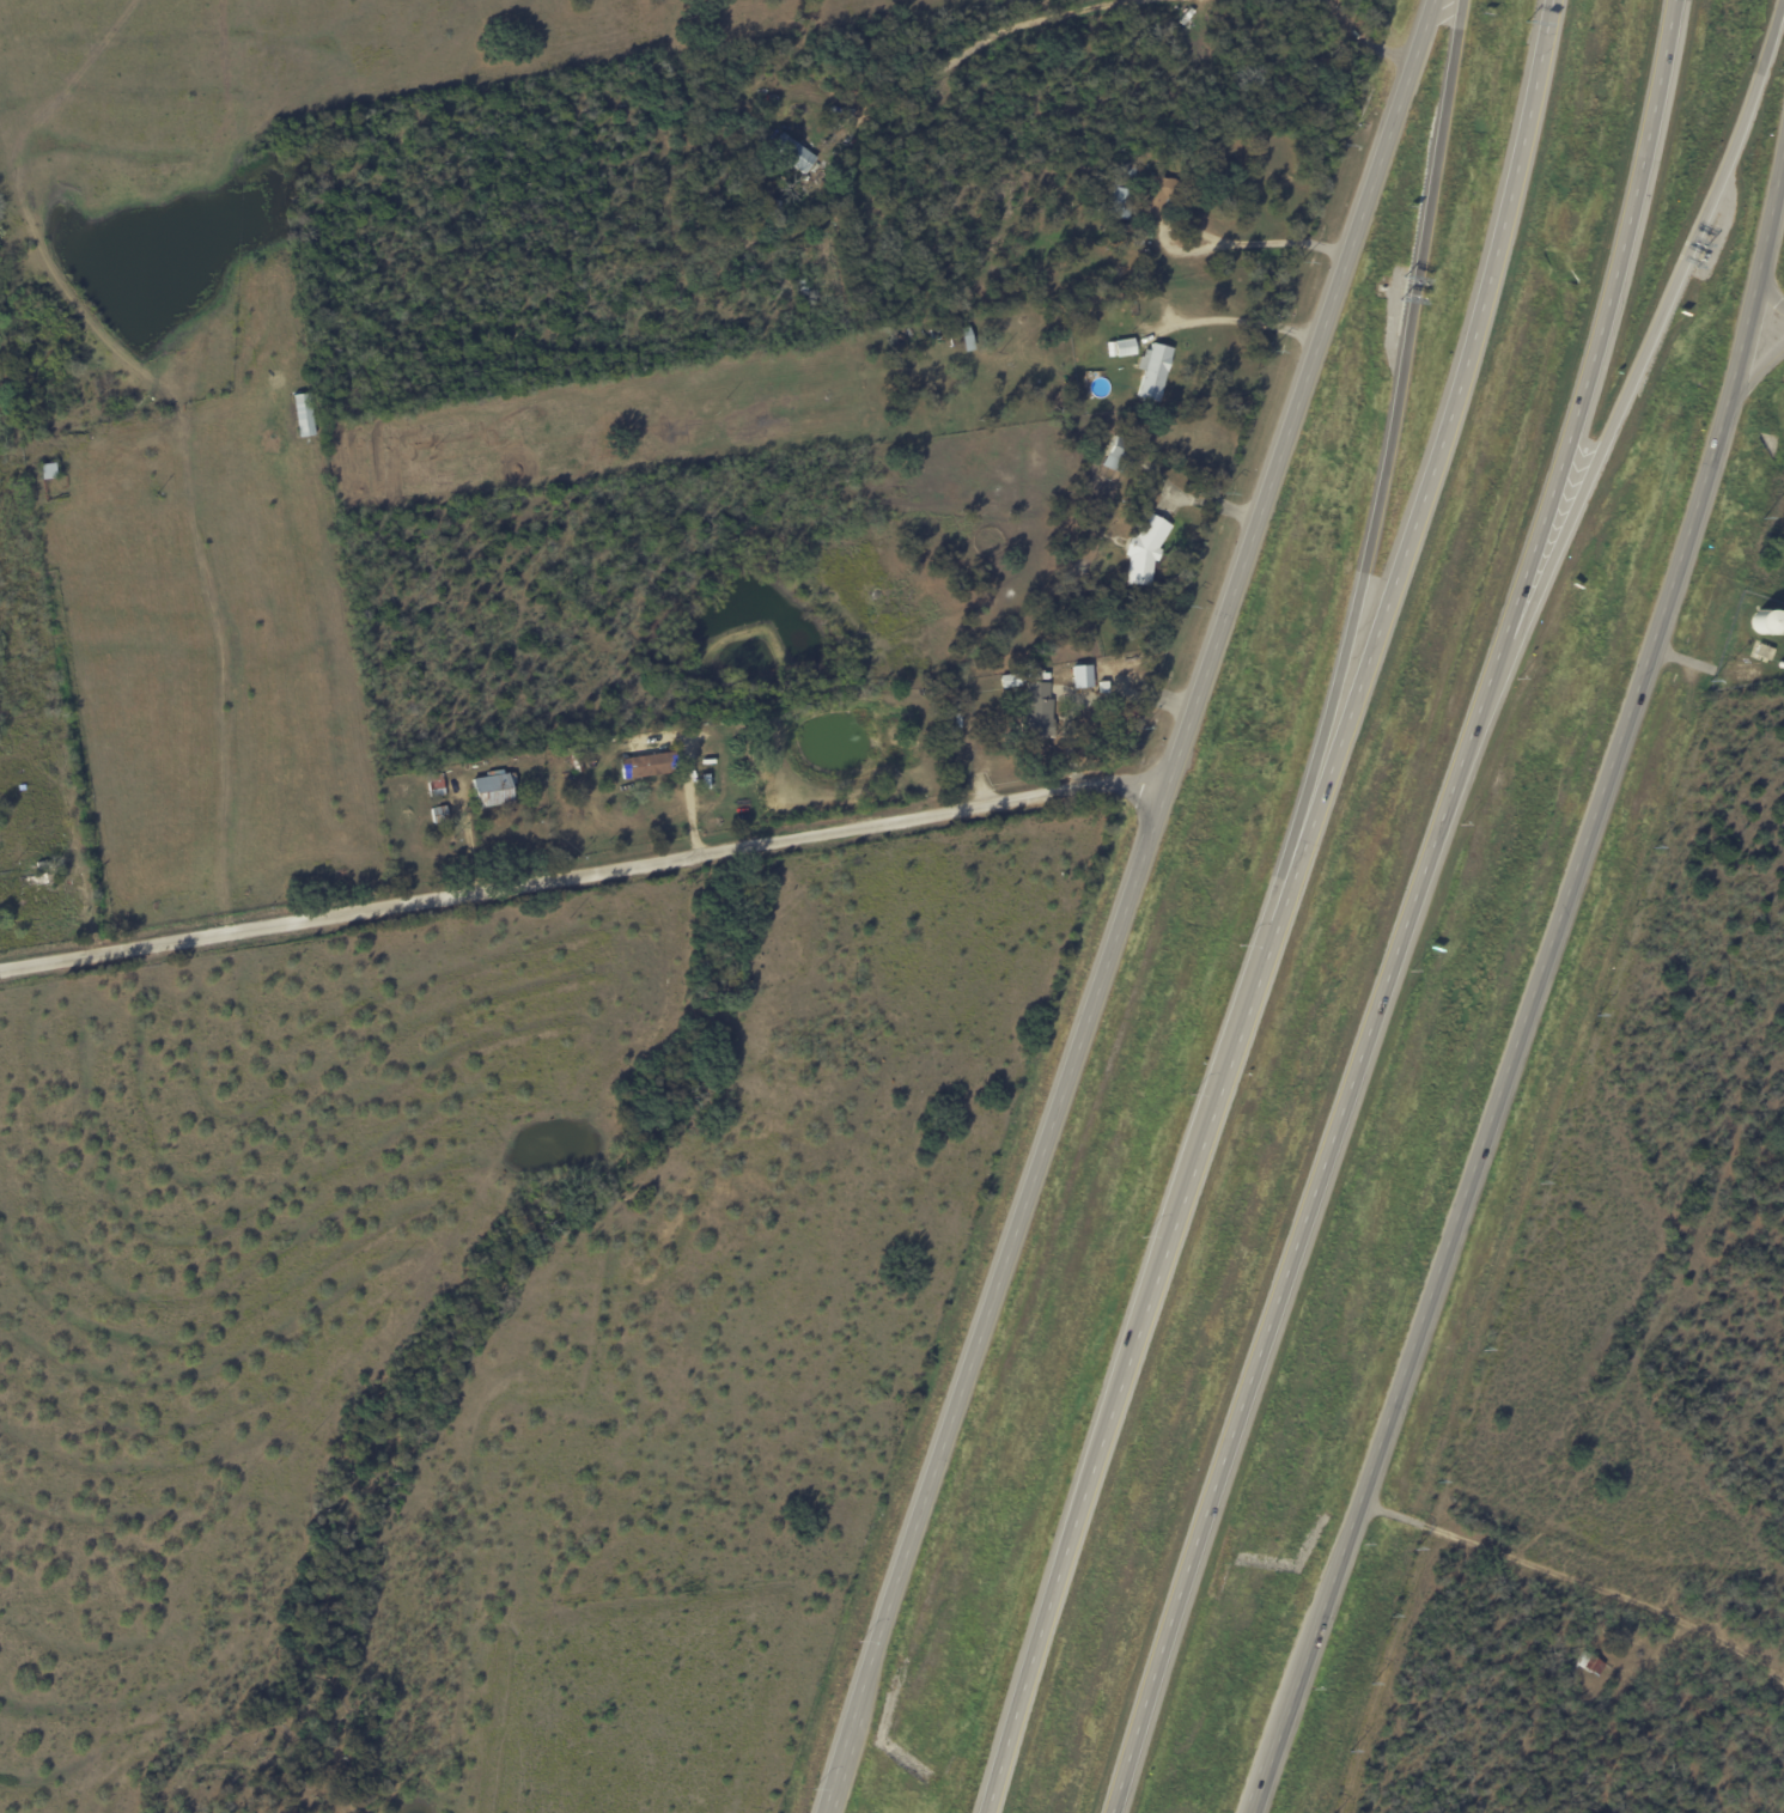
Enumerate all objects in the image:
road: (1360, 41)
road: (975, 48)
building: (791, 152)
building: (1158, 197)
building: (1116, 202)
road: (1261, 244)
road: (1768, 290)
road: (1230, 321)
road: (1601, 324)
road: (1655, 326)
building: (1124, 347)
building: (1151, 371)
road: (1748, 383)
building: (302, 414)
road: (1388, 432)
building: (1116, 454)
building: (1144, 549)
building: (1079, 676)
building: (1037, 708)
building: (646, 765)
building: (489, 790)
road: (582, 877)
road: (1116, 904)
road: (1286, 909)
road: (1538, 1003)
road: (1317, 1229)
road: (1579, 1582)
building: (1588, 1663)

